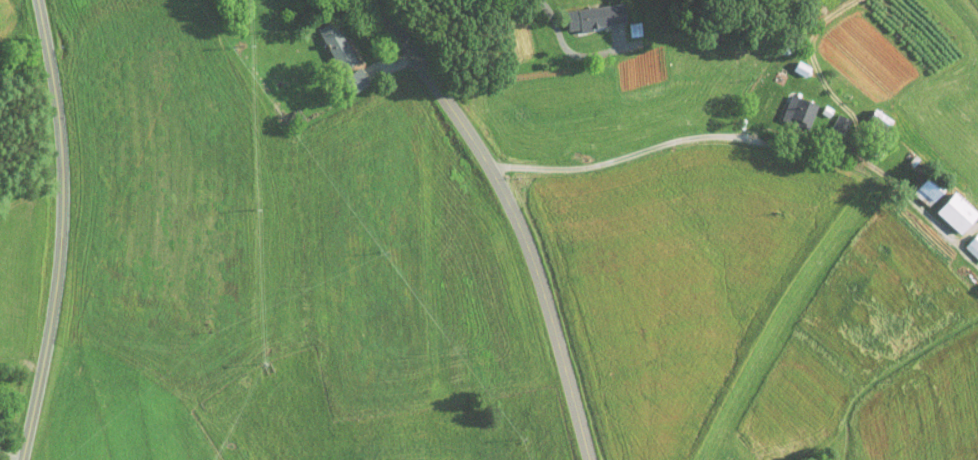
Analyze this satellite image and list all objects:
road: (431, 7)
building: (586, 11)
building: (624, 23)
building: (327, 40)
road: (570, 52)
building: (348, 73)
building: (790, 102)
road: (753, 142)
building: (920, 184)
building: (948, 206)
road: (514, 215)
road: (62, 230)
building: (968, 241)
road: (6, 453)

